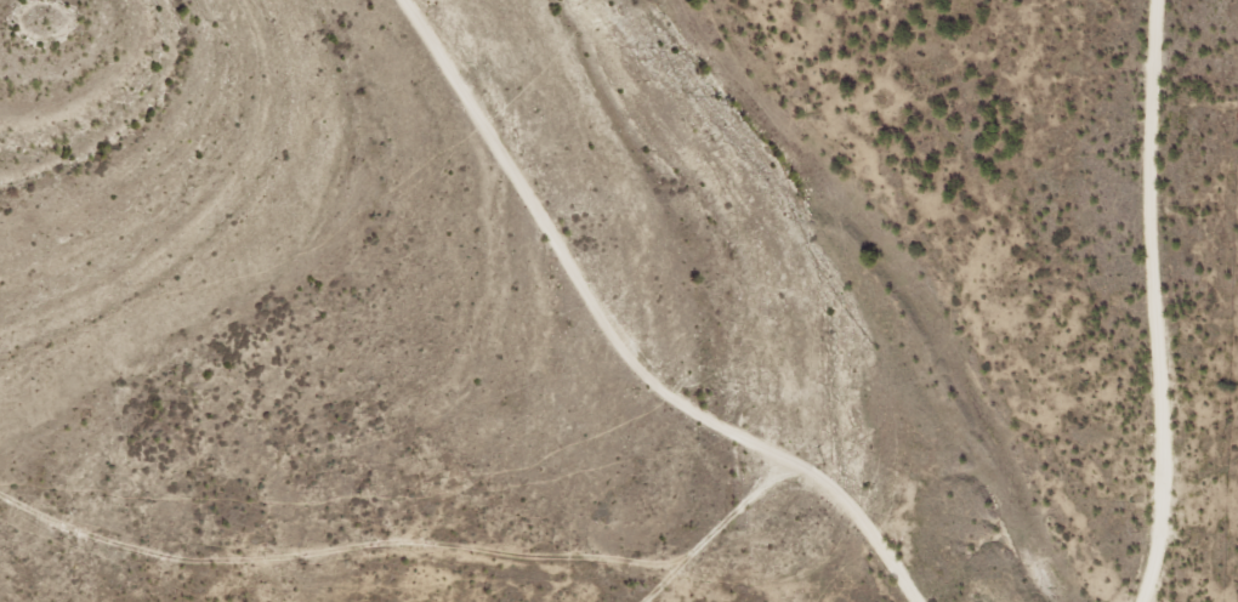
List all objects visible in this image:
road: (1199, 301)
road: (660, 306)
road: (465, 550)

